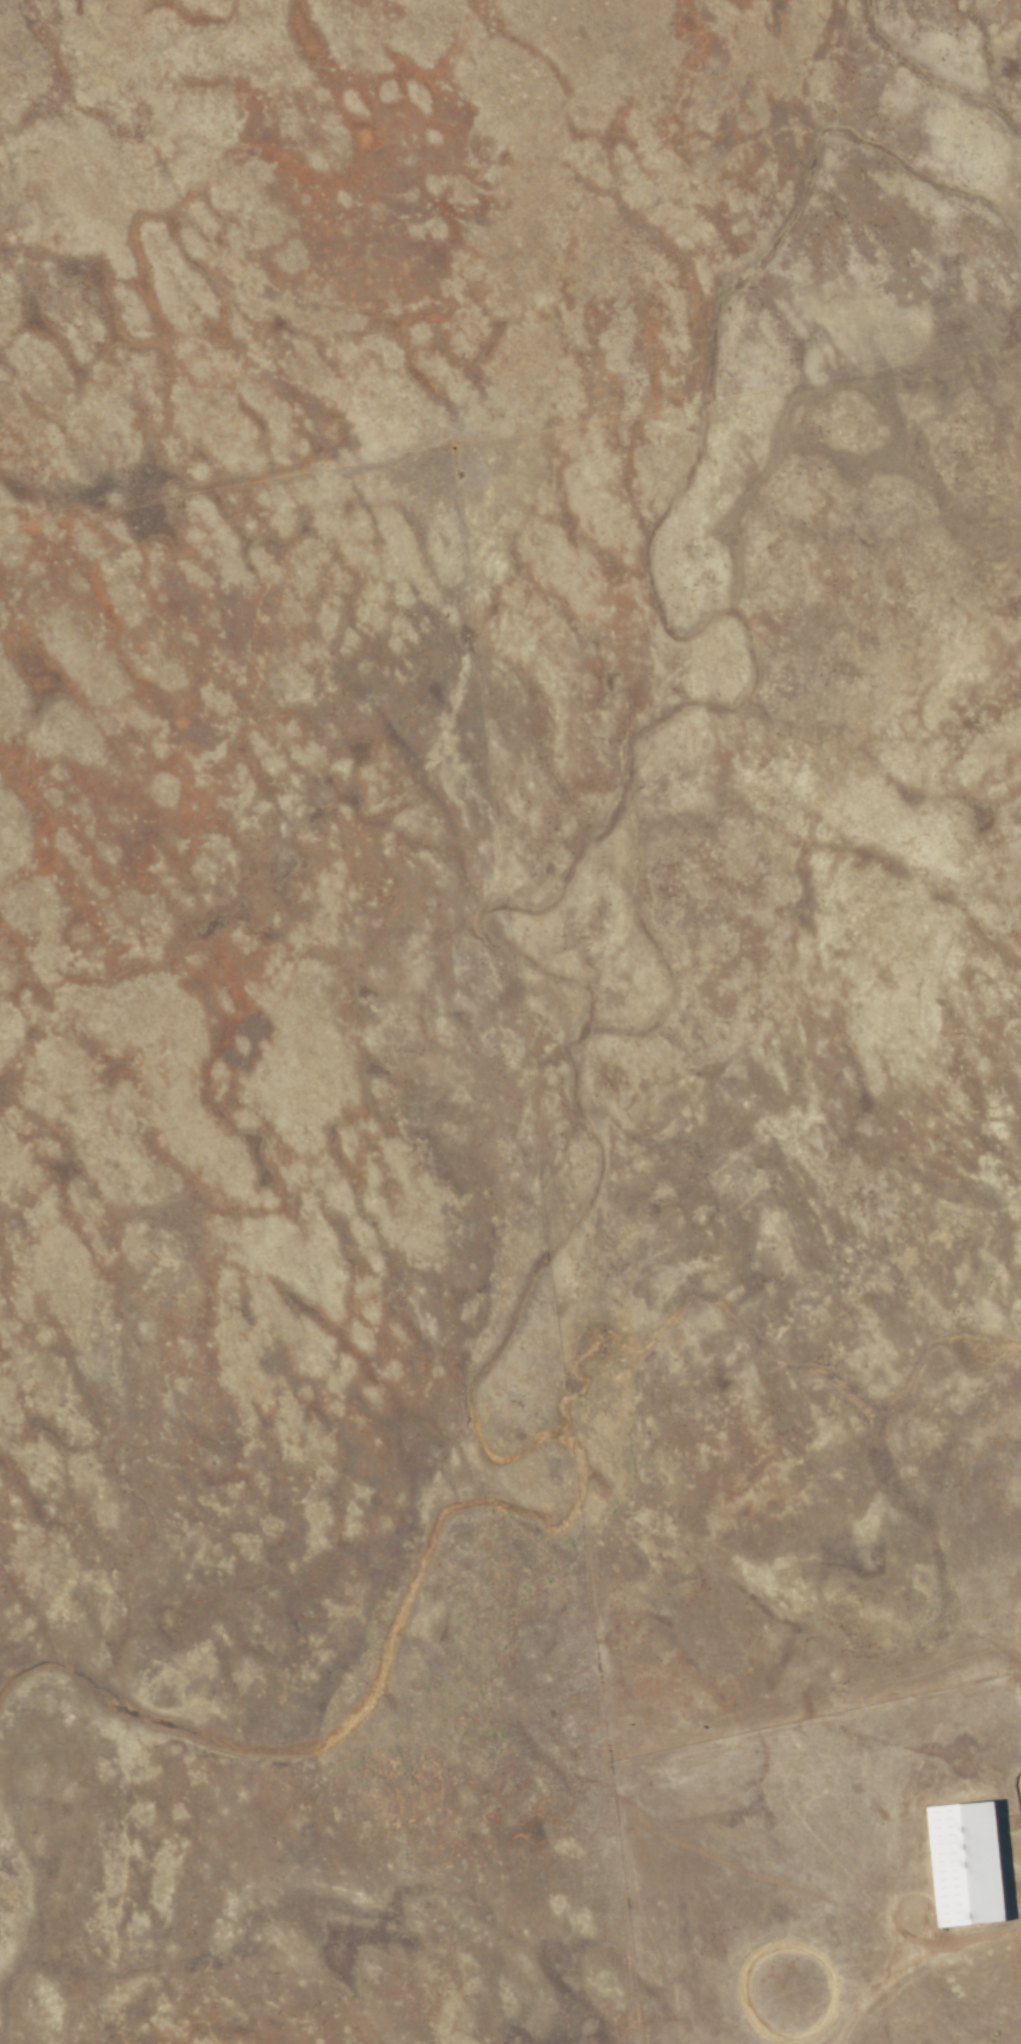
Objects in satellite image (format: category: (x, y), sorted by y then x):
building: (966, 1866)

